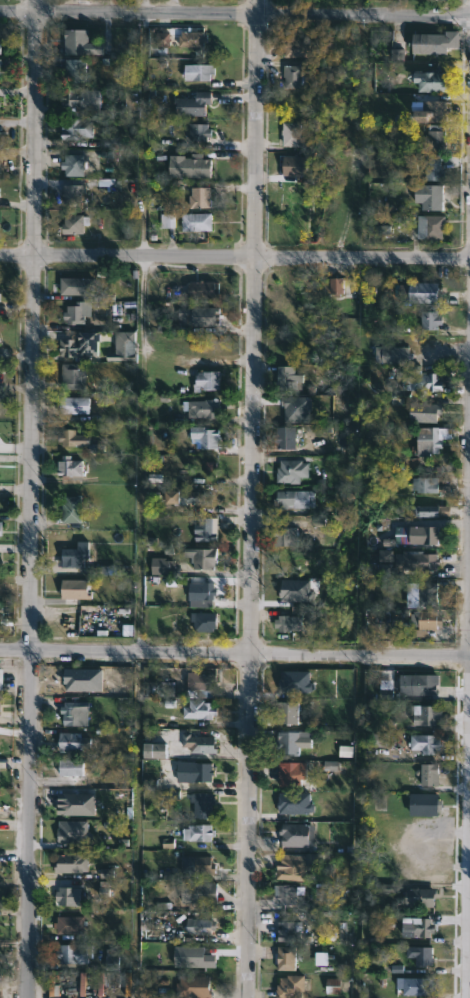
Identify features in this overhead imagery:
road: (235, 15)
building: (194, 39)
building: (80, 42)
building: (426, 43)
building: (298, 47)
building: (1, 48)
building: (77, 70)
building: (0, 71)
building: (200, 72)
building: (294, 76)
building: (435, 81)
building: (76, 99)
building: (129, 103)
building: (1, 105)
building: (195, 105)
building: (429, 112)
building: (80, 129)
building: (197, 132)
building: (293, 134)
building: (436, 138)
building: (81, 164)
building: (293, 166)
building: (1, 167)
building: (192, 167)
building: (436, 168)
building: (74, 194)
building: (429, 196)
building: (201, 198)
building: (168, 222)
building: (198, 222)
building: (75, 224)
building: (432, 227)
road: (235, 255)
building: (336, 287)
building: (84, 288)
building: (203, 290)
building: (423, 293)
building: (79, 313)
building: (200, 316)
building: (431, 320)
road: (142, 333)
building: (83, 346)
building: (121, 346)
building: (389, 355)
building: (75, 377)
building: (292, 378)
building: (209, 381)
building: (424, 382)
building: (76, 406)
building: (203, 409)
building: (426, 412)
building: (207, 437)
building: (287, 438)
building: (81, 441)
building: (429, 441)
building: (71, 467)
building: (294, 472)
building: (431, 486)
building: (220, 496)
road: (253, 498)
road: (33, 499)
building: (184, 499)
building: (292, 500)
building: (433, 511)
building: (71, 512)
building: (1, 529)
building: (208, 530)
building: (290, 534)
building: (419, 536)
building: (77, 555)
building: (0, 558)
building: (200, 558)
building: (420, 564)
building: (76, 590)
building: (200, 593)
building: (433, 593)
building: (76, 620)
building: (206, 622)
building: (427, 623)
building: (289, 624)
road: (235, 653)
building: (0, 674)
building: (198, 684)
building: (418, 685)
building: (158, 688)
building: (0, 703)
building: (201, 709)
building: (290, 711)
building: (76, 712)
building: (427, 714)
building: (74, 741)
building: (197, 743)
building: (289, 743)
building: (423, 743)
building: (155, 750)
building: (71, 771)
building: (205, 771)
building: (291, 773)
building: (431, 774)
building: (68, 803)
building: (203, 804)
building: (425, 804)
road: (136, 825)
building: (200, 832)
building: (296, 836)
building: (72, 863)
building: (199, 864)
building: (290, 866)
road: (468, 878)
building: (197, 894)
building: (70, 896)
building: (289, 897)
building: (419, 897)
building: (0, 912)
building: (72, 924)
building: (202, 926)
building: (422, 928)
building: (291, 929)
building: (76, 953)
building: (419, 954)
building: (288, 958)
building: (67, 986)
building: (289, 986)
building: (416, 986)
building: (196, 987)

